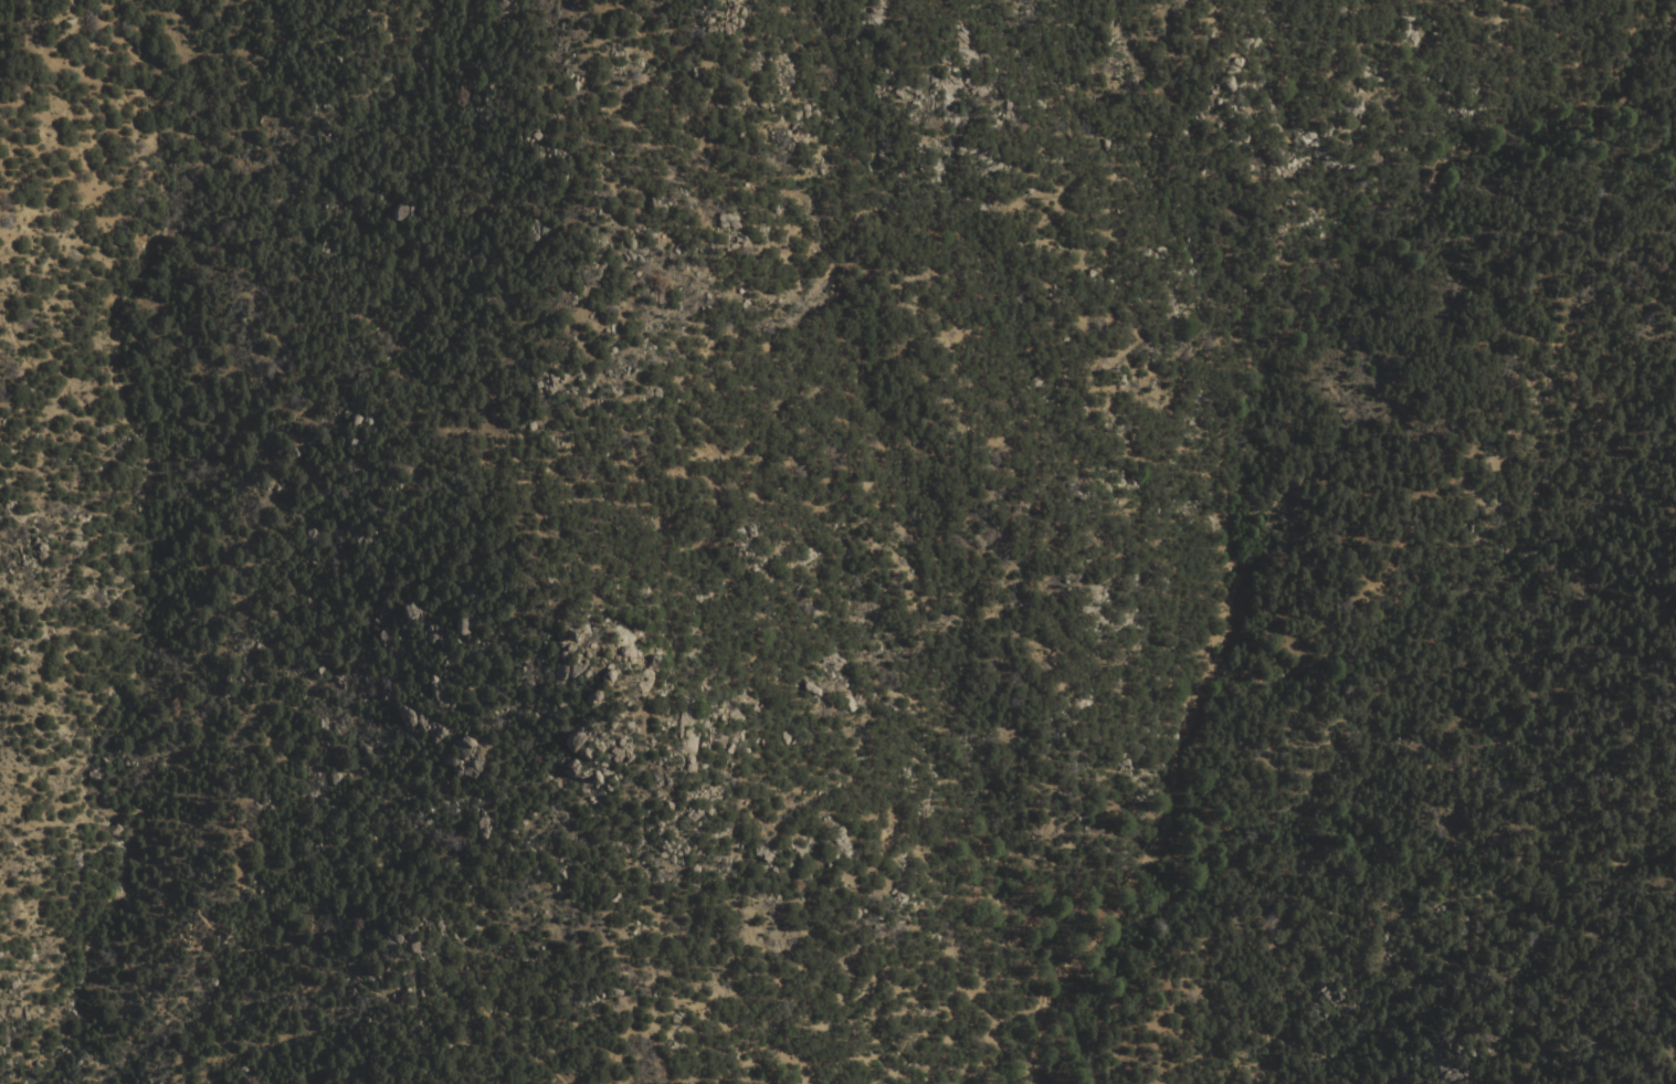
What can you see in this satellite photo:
road: (359, 3)
road: (1384, 14)
road: (831, 156)
road: (389, 206)
road: (1235, 452)
road: (813, 698)
road: (187, 949)
road: (980, 996)

